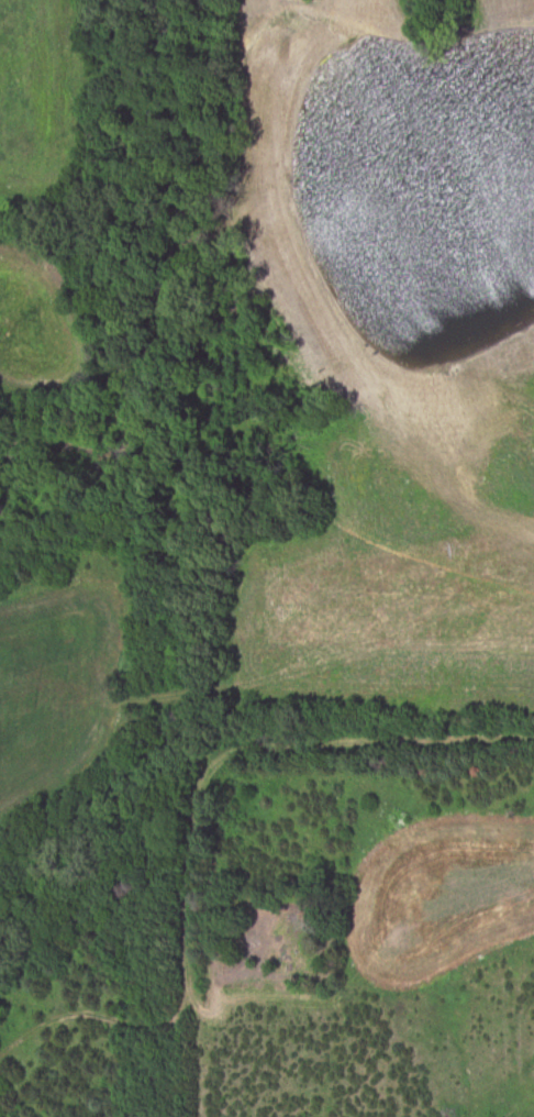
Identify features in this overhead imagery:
road: (366, 725)
park: (275, 938)

